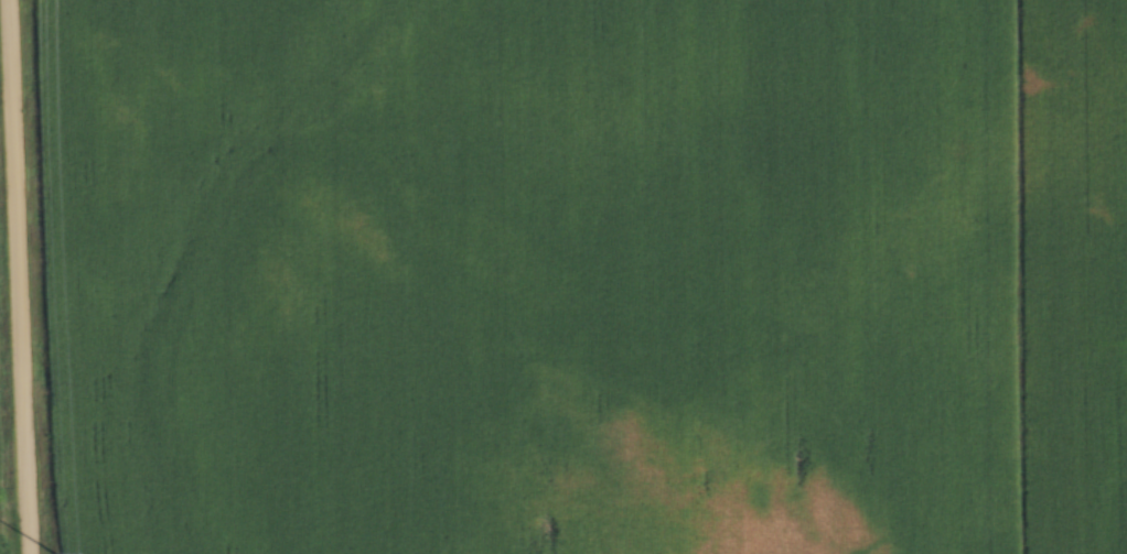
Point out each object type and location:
road: (26, 276)
power tower: (56, 553)

